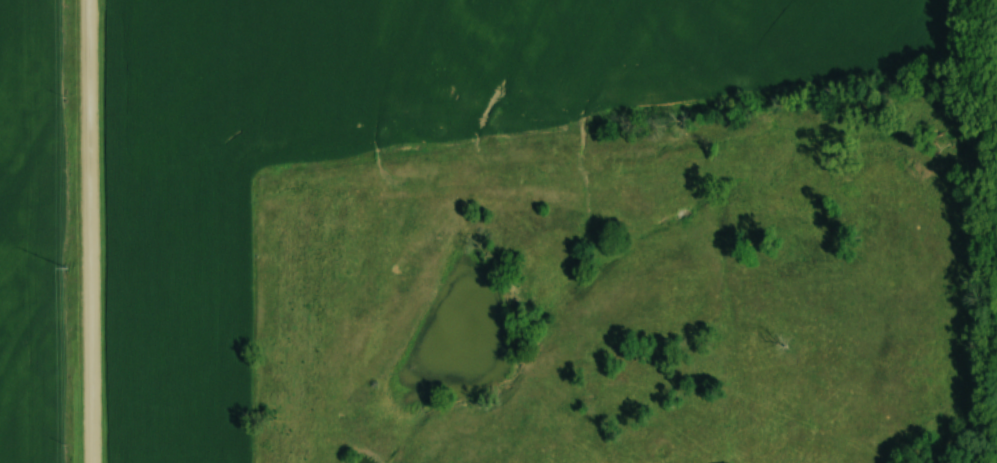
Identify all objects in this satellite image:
road: (90, 231)

